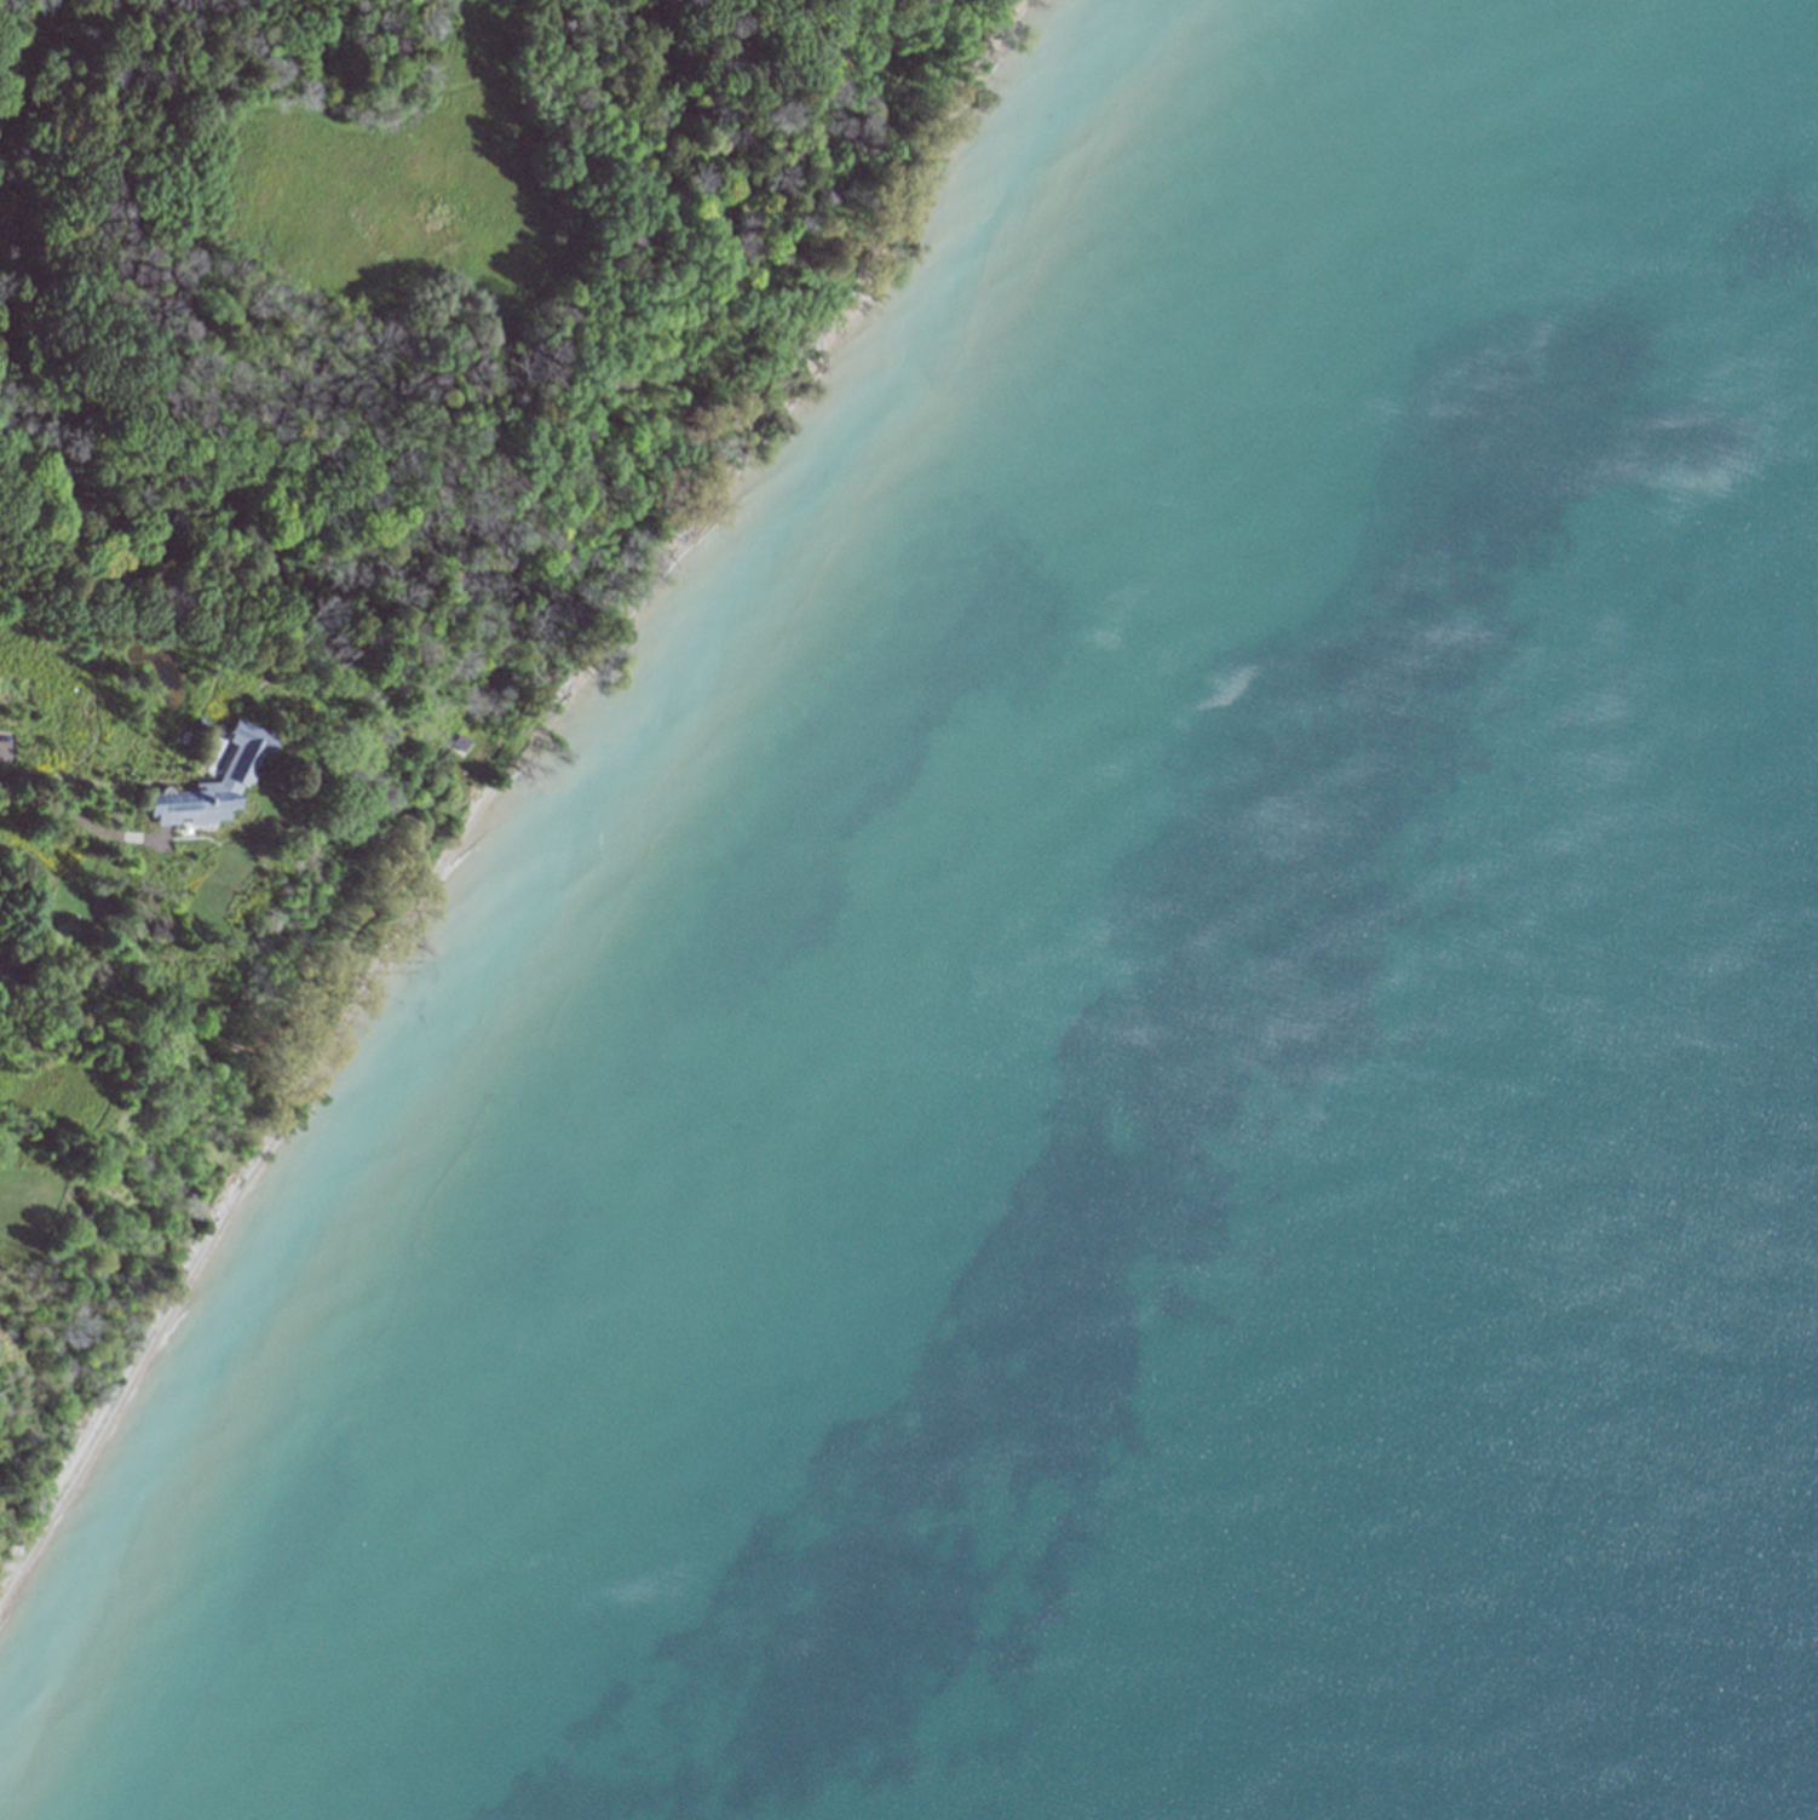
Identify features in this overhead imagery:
road: (25, 777)

